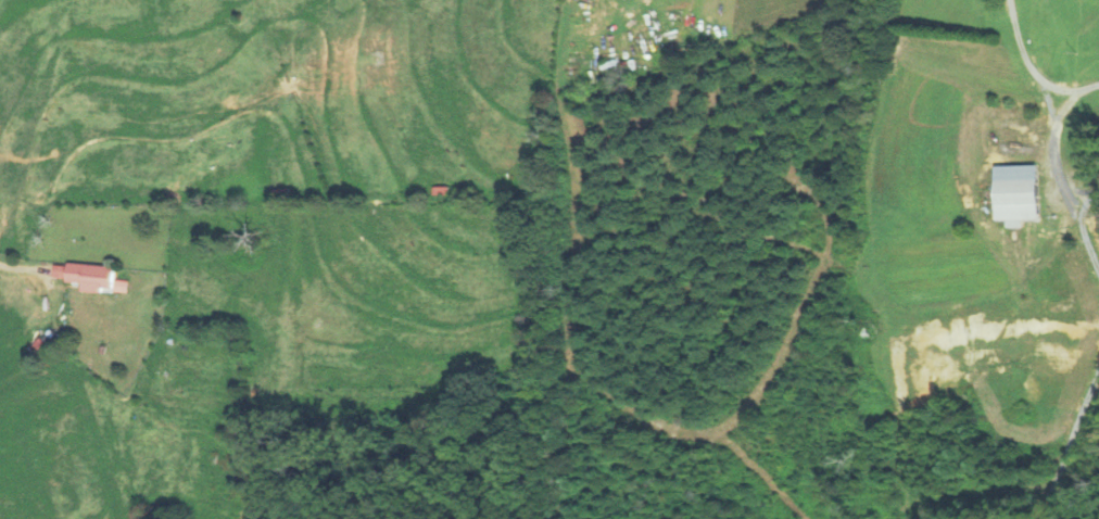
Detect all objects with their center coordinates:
road: (1023, 75)
road: (1038, 170)
building: (1018, 191)
road: (25, 269)
building: (91, 276)
building: (50, 336)
road: (1075, 355)

